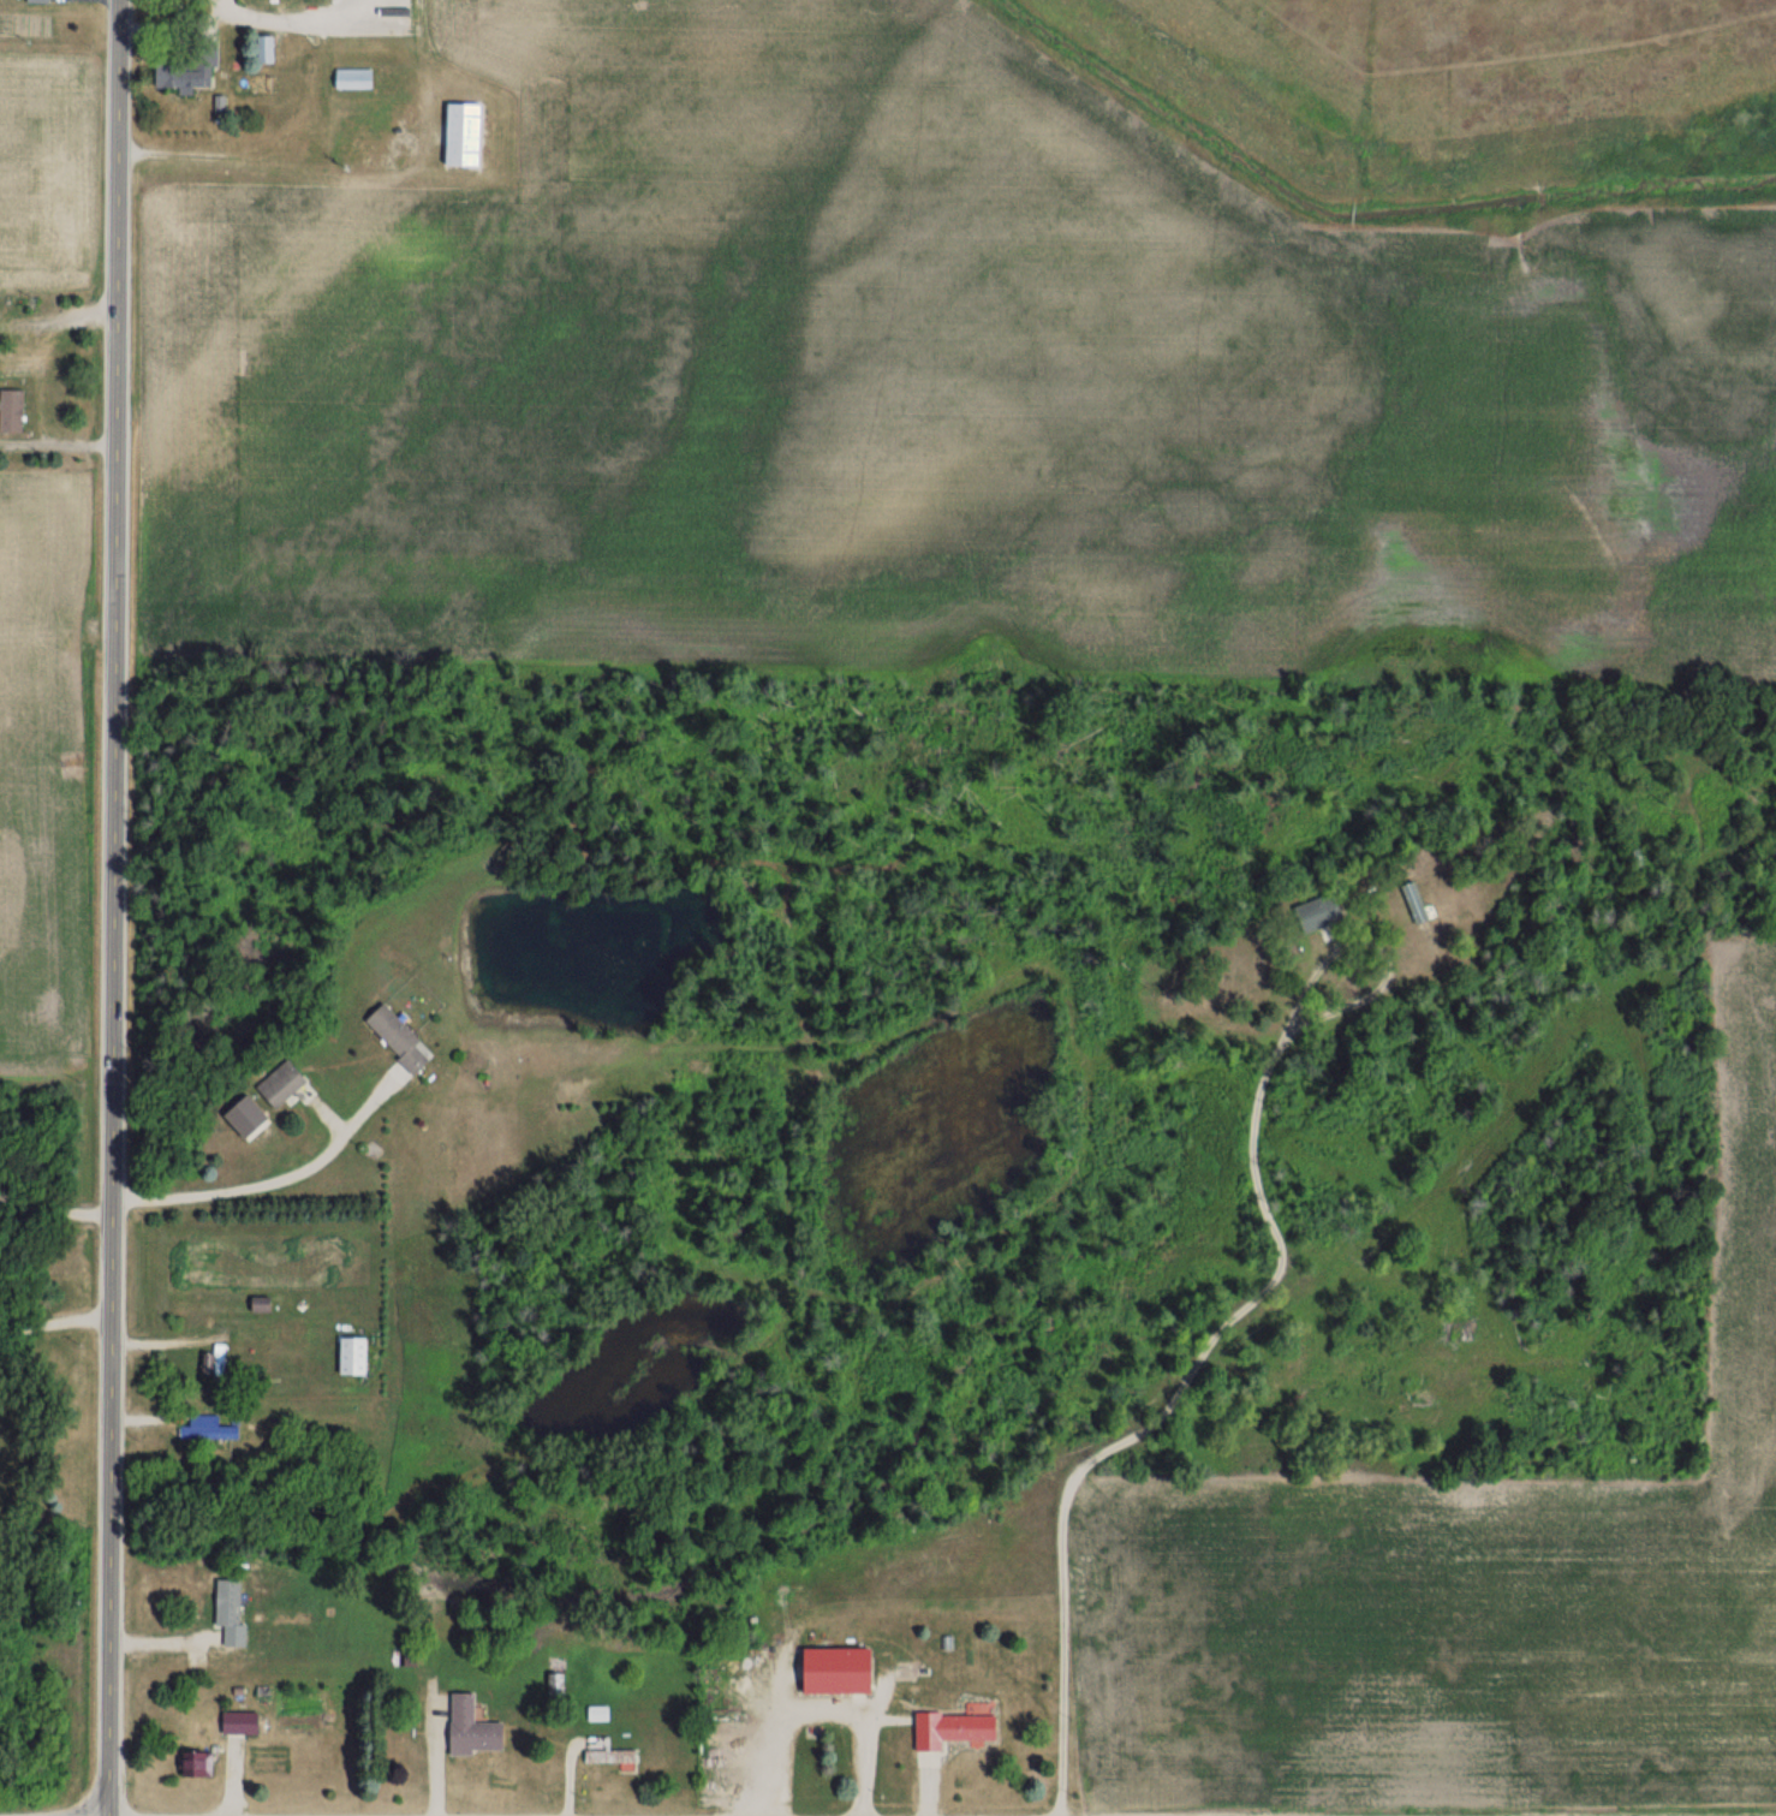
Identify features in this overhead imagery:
building: (35, 1)
building: (267, 1)
road: (280, 10)
building: (260, 52)
building: (175, 64)
building: (360, 79)
building: (458, 135)
building: (347, 138)
building: (389, 143)
building: (0, 341)
building: (18, 409)
road: (58, 555)
building: (1408, 901)
road: (114, 907)
building: (1307, 913)
building: (405, 1038)
building: (285, 1082)
road: (1238, 1151)
road: (275, 1181)
road: (55, 1321)
building: (360, 1354)
building: (222, 1358)
building: (214, 1428)
road: (56, 1524)
building: (236, 1610)
road: (1051, 1644)
building: (829, 1671)
building: (552, 1685)
road: (803, 1708)
building: (595, 1714)
building: (246, 1721)
building: (466, 1727)
building: (944, 1728)
building: (603, 1751)
building: (199, 1764)

